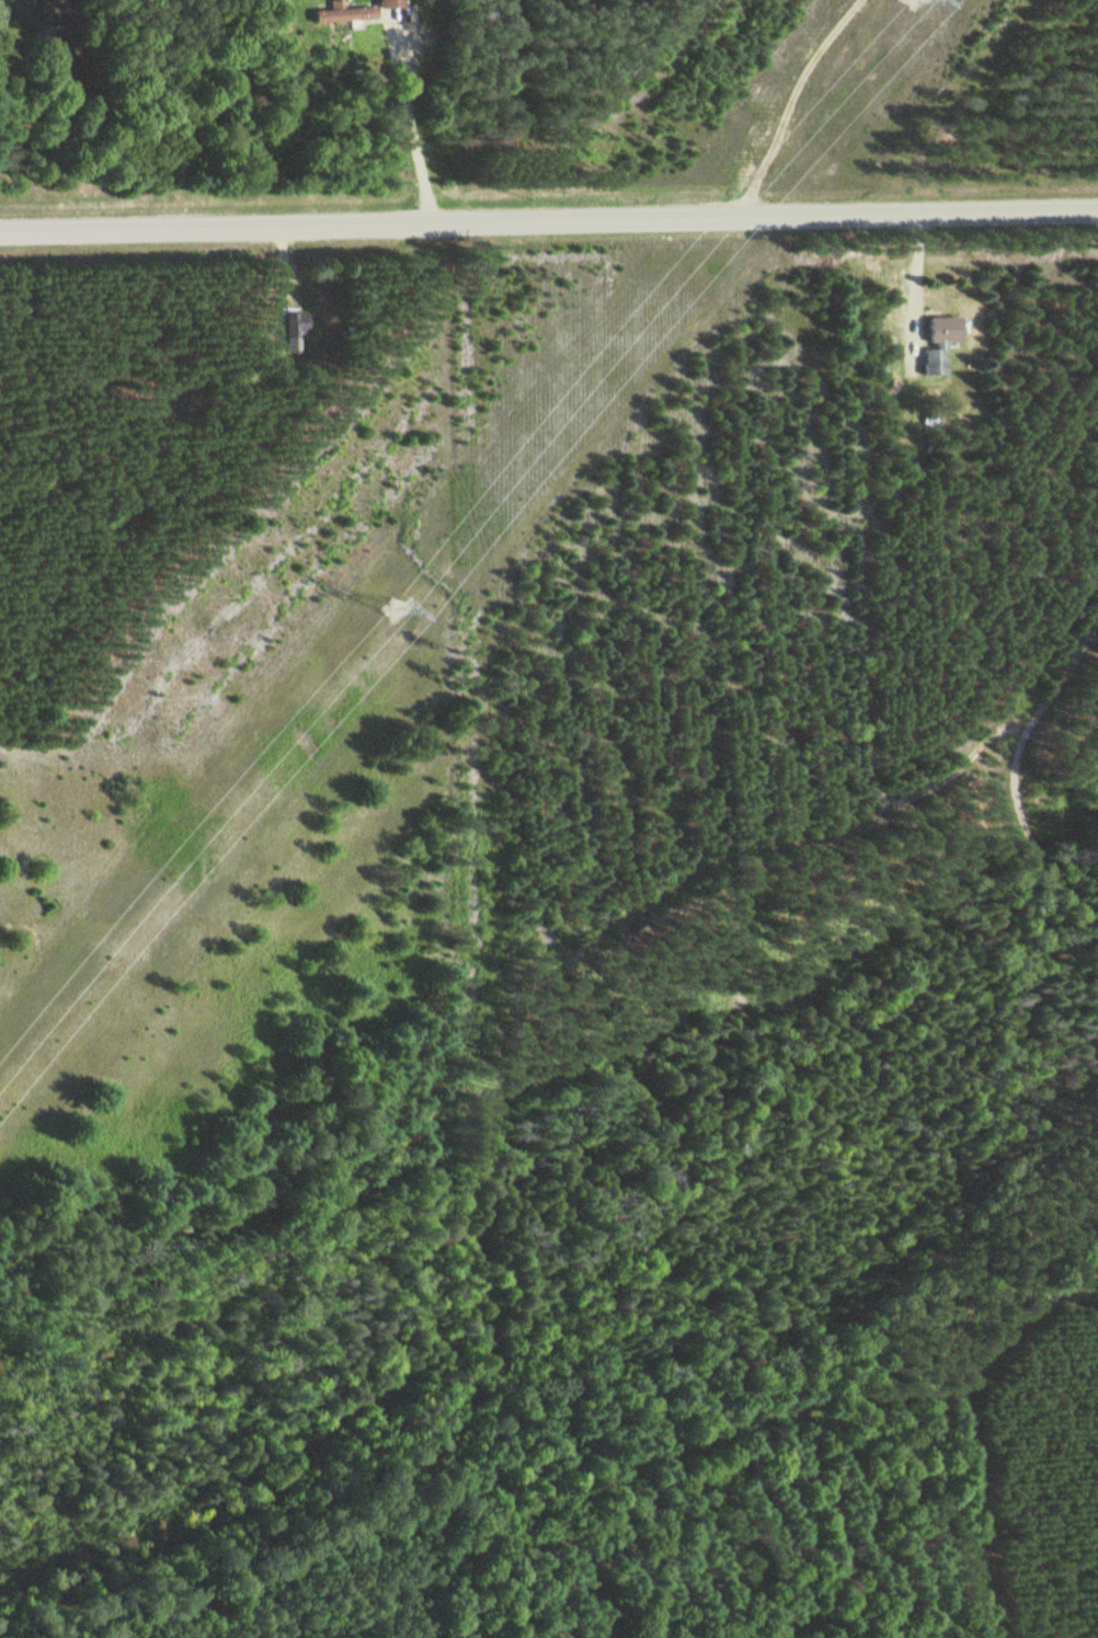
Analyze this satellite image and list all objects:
building: (389, 3)
building: (343, 13)
building: (56, 50)
road: (788, 101)
road: (549, 221)
building: (294, 324)
building: (938, 342)
power tower: (393, 609)
river: (355, 1307)
road: (962, 1427)

